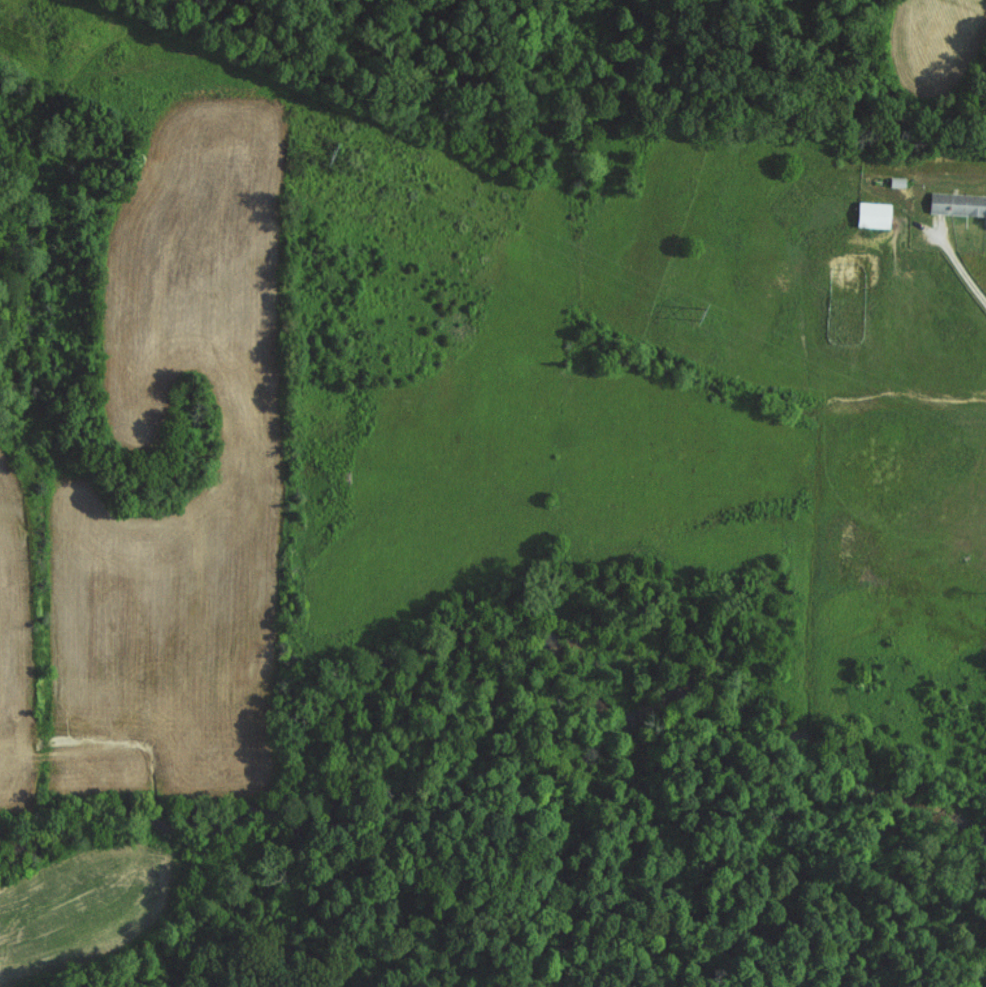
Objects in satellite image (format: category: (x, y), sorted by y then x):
power tower: (332, 153)
building: (956, 203)
building: (871, 214)
road: (960, 265)
power tower: (699, 312)

